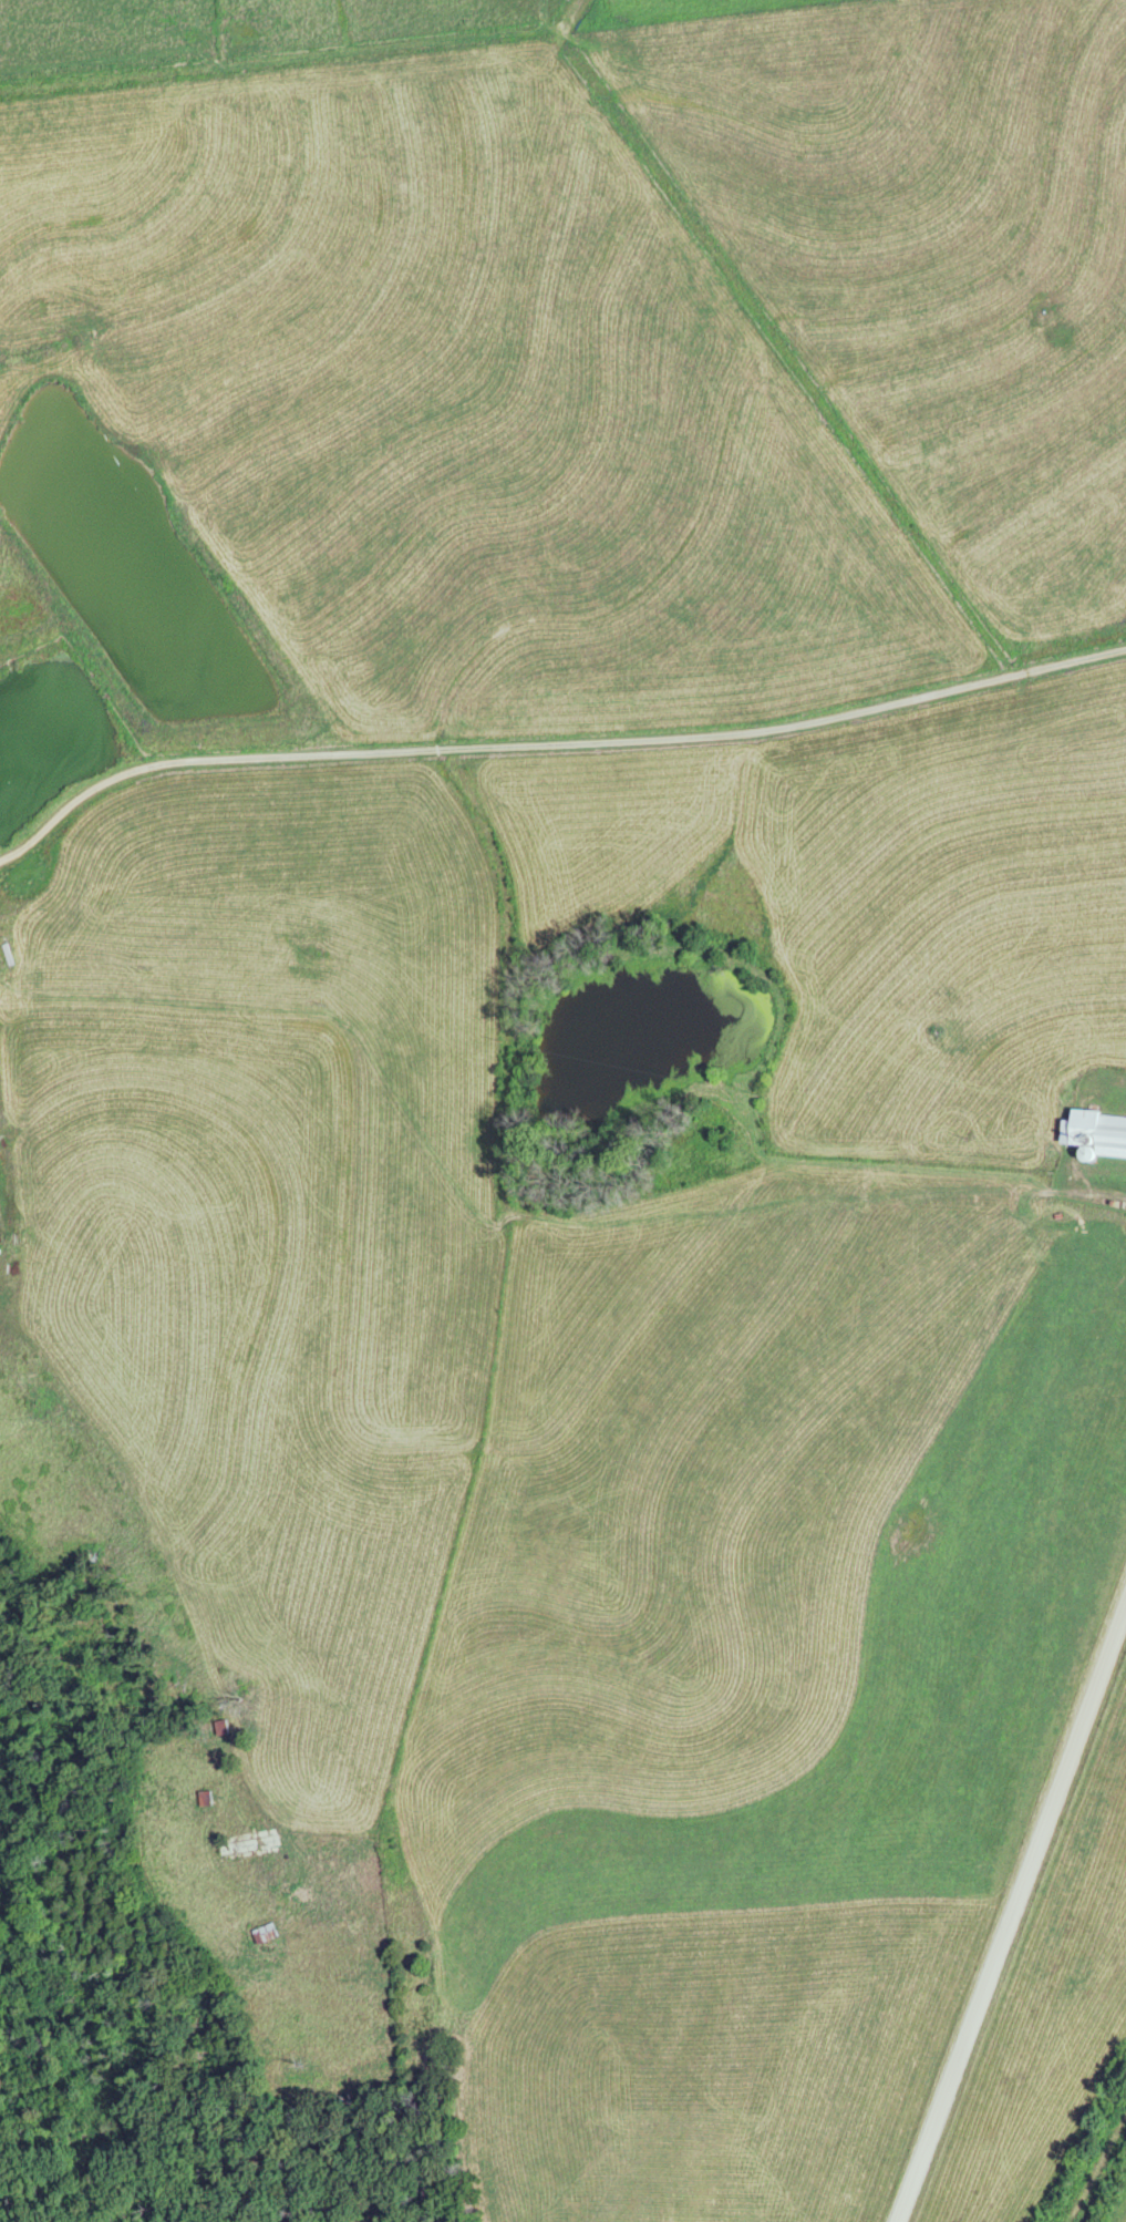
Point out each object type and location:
road: (551, 743)
building: (1096, 1134)
road: (187, 1594)
building: (215, 1728)
building: (262, 1841)
road: (1013, 1918)
building: (260, 1935)
railway: (1095, 2169)

